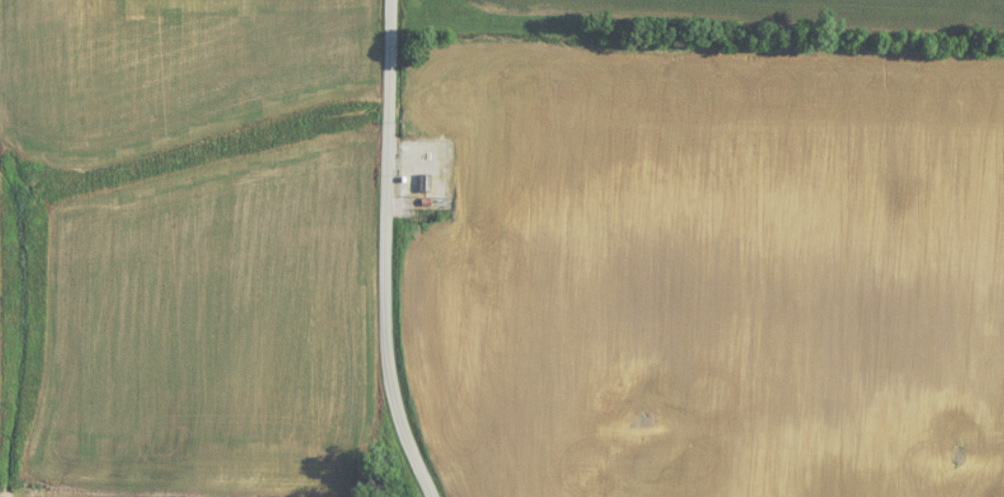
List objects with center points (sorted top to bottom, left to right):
road: (383, 252)

